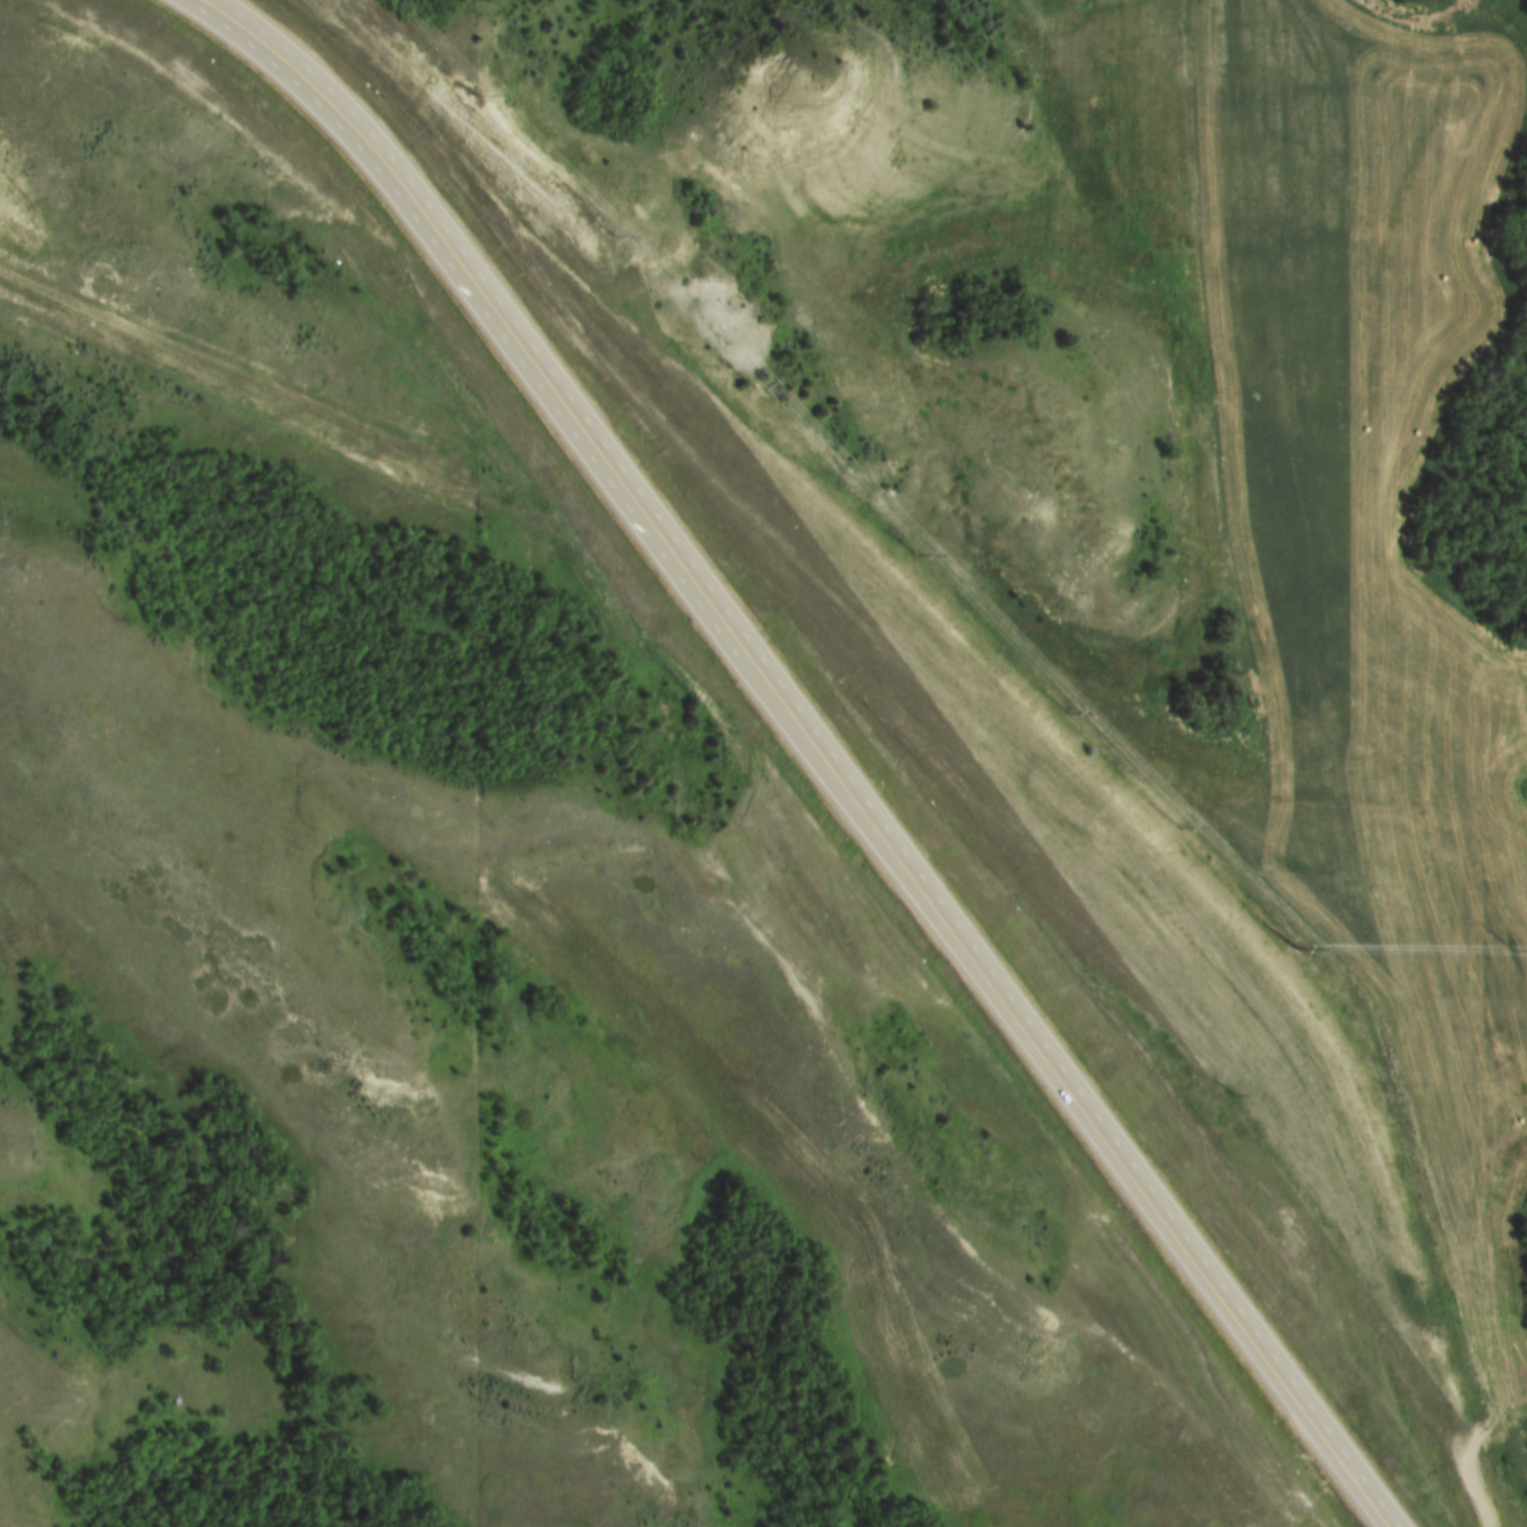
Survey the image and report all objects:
road: (182, 360)
road: (820, 745)

